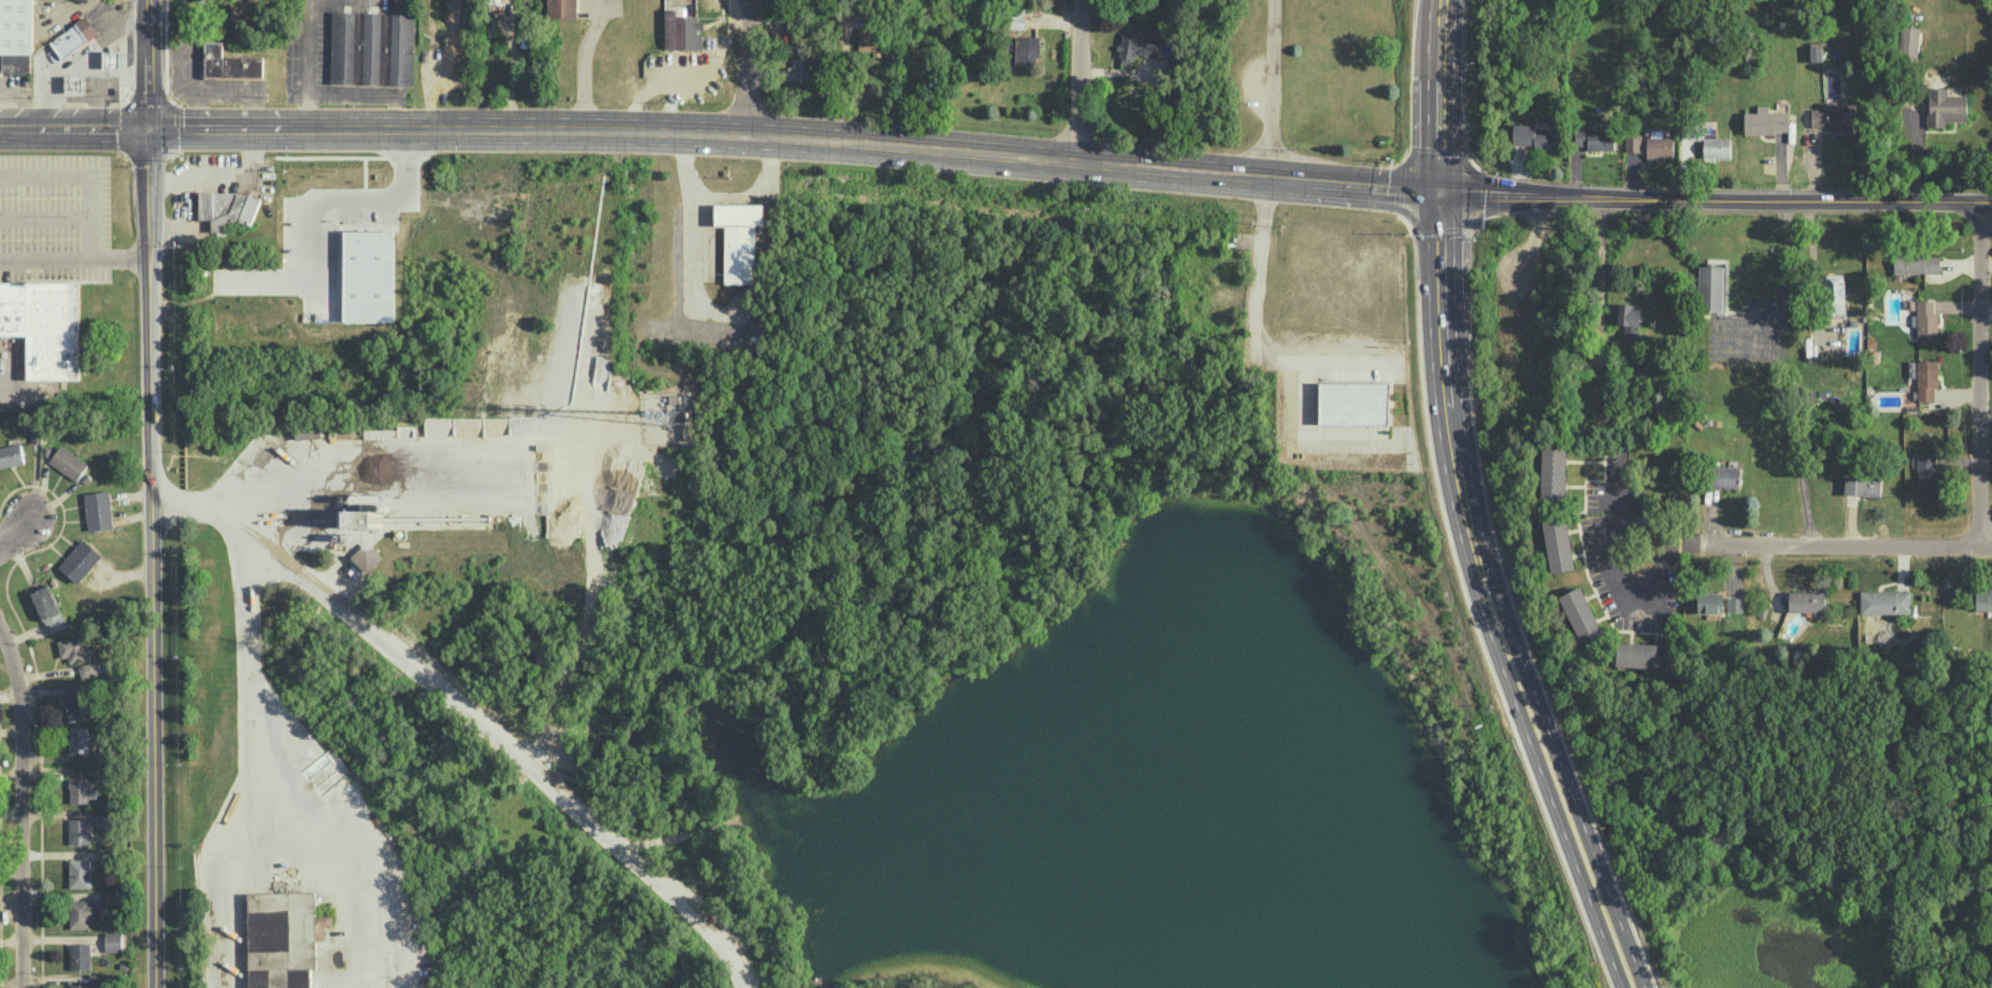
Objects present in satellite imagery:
building: (563, 8)
building: (1016, 18)
building: (682, 30)
building: (74, 38)
building: (1909, 42)
building: (373, 48)
building: (112, 60)
road: (148, 63)
road: (303, 63)
road: (585, 65)
road: (747, 68)
building: (799, 69)
road: (1080, 79)
road: (843, 81)
building: (76, 85)
road: (1272, 88)
building: (1945, 107)
building: (1834, 118)
building: (1765, 121)
road: (74, 126)
building: (1537, 136)
building: (1595, 138)
building: (1632, 144)
building: (1659, 146)
building: (1716, 147)
road: (1070, 158)
road: (720, 189)
road: (149, 193)
road: (340, 198)
building: (748, 214)
road: (75, 259)
road: (1601, 263)
building: (1917, 263)
road: (1815, 272)
building: (372, 275)
building: (1711, 288)
building: (1834, 292)
road: (1782, 302)
building: (1926, 319)
building: (44, 324)
road: (1255, 332)
road: (1979, 374)
building: (1927, 379)
building: (308, 430)
road: (1794, 442)
road: (342, 450)
building: (68, 462)
building: (1725, 476)
road: (1628, 485)
building: (1862, 485)
road: (1466, 507)
building: (98, 510)
building: (391, 517)
road: (26, 523)
building: (1558, 544)
road: (1836, 544)
building: (365, 556)
building: (80, 560)
road: (1615, 577)
building: (1983, 598)
building: (1806, 601)
building: (1885, 601)
building: (1709, 602)
building: (1735, 604)
building: (49, 609)
building: (1580, 613)
road: (152, 623)
building: (74, 649)
building: (1642, 654)
road: (242, 664)
building: (88, 669)
building: (78, 702)
road: (469, 711)
building: (78, 739)
building: (81, 790)
road: (21, 803)
building: (103, 814)
building: (79, 830)
road: (356, 865)
building: (79, 873)
road: (208, 894)
building: (110, 898)
building: (83, 912)
building: (283, 938)
building: (113, 941)
building: (80, 955)
building: (97, 978)
building: (80, 986)
road: (626, 986)

